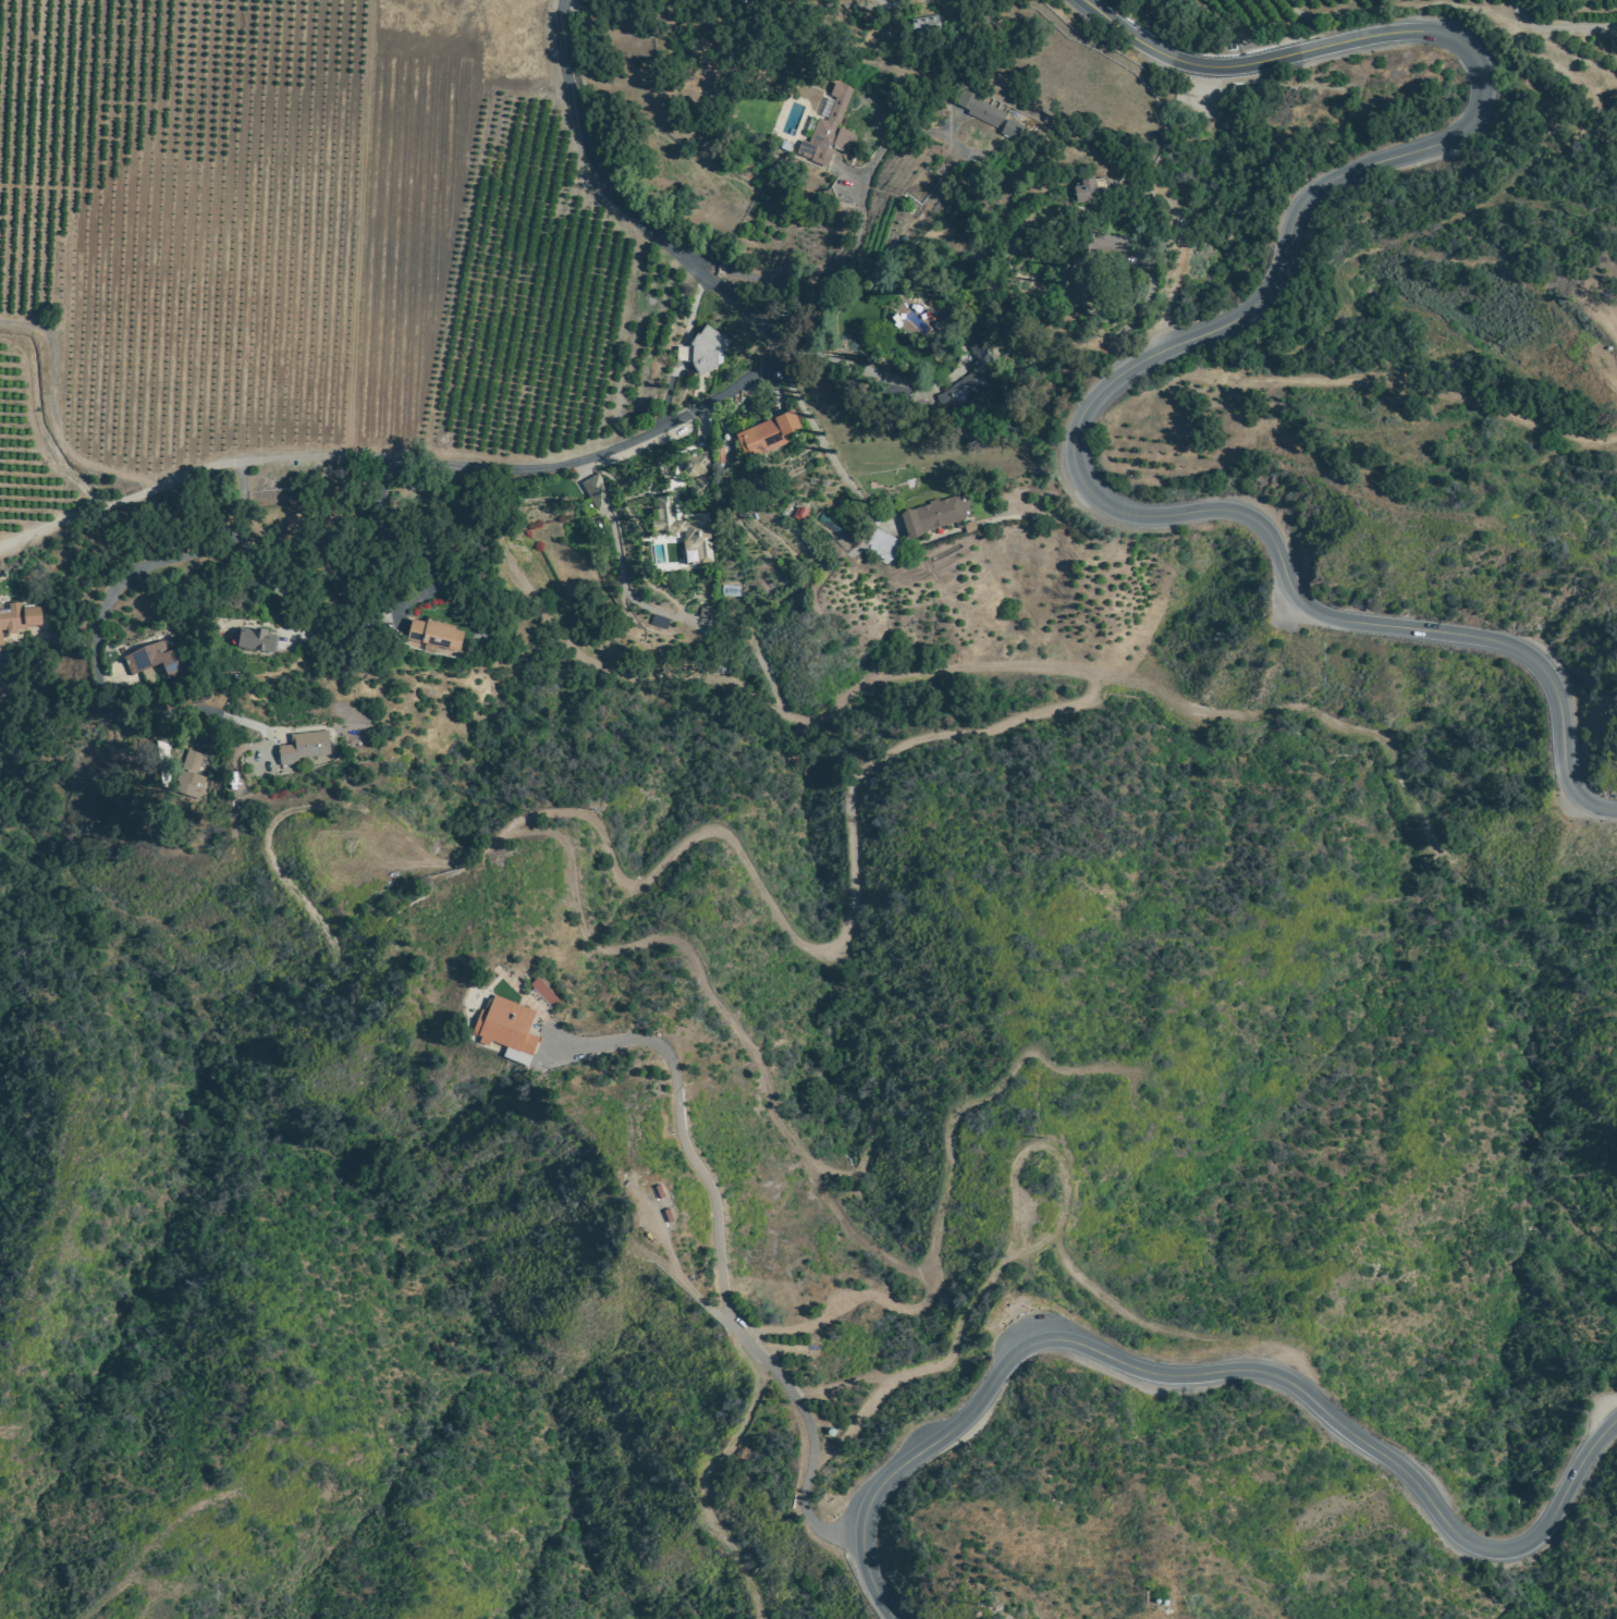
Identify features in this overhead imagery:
road: (1558, 28)
building: (987, 114)
building: (828, 131)
building: (1085, 193)
road: (771, 282)
road: (1148, 347)
building: (702, 352)
road: (844, 367)
road: (1346, 383)
building: (967, 385)
building: (765, 434)
road: (825, 447)
road: (609, 452)
building: (694, 465)
building: (596, 492)
building: (683, 531)
road: (1512, 537)
building: (880, 543)
road: (413, 549)
road: (258, 568)
road: (125, 579)
building: (19, 617)
building: (433, 636)
building: (253, 639)
building: (0, 640)
building: (156, 658)
road: (131, 706)
building: (304, 747)
building: (193, 761)
building: (187, 784)
building: (542, 991)
building: (505, 1028)
road: (720, 1265)
road: (1210, 1373)

